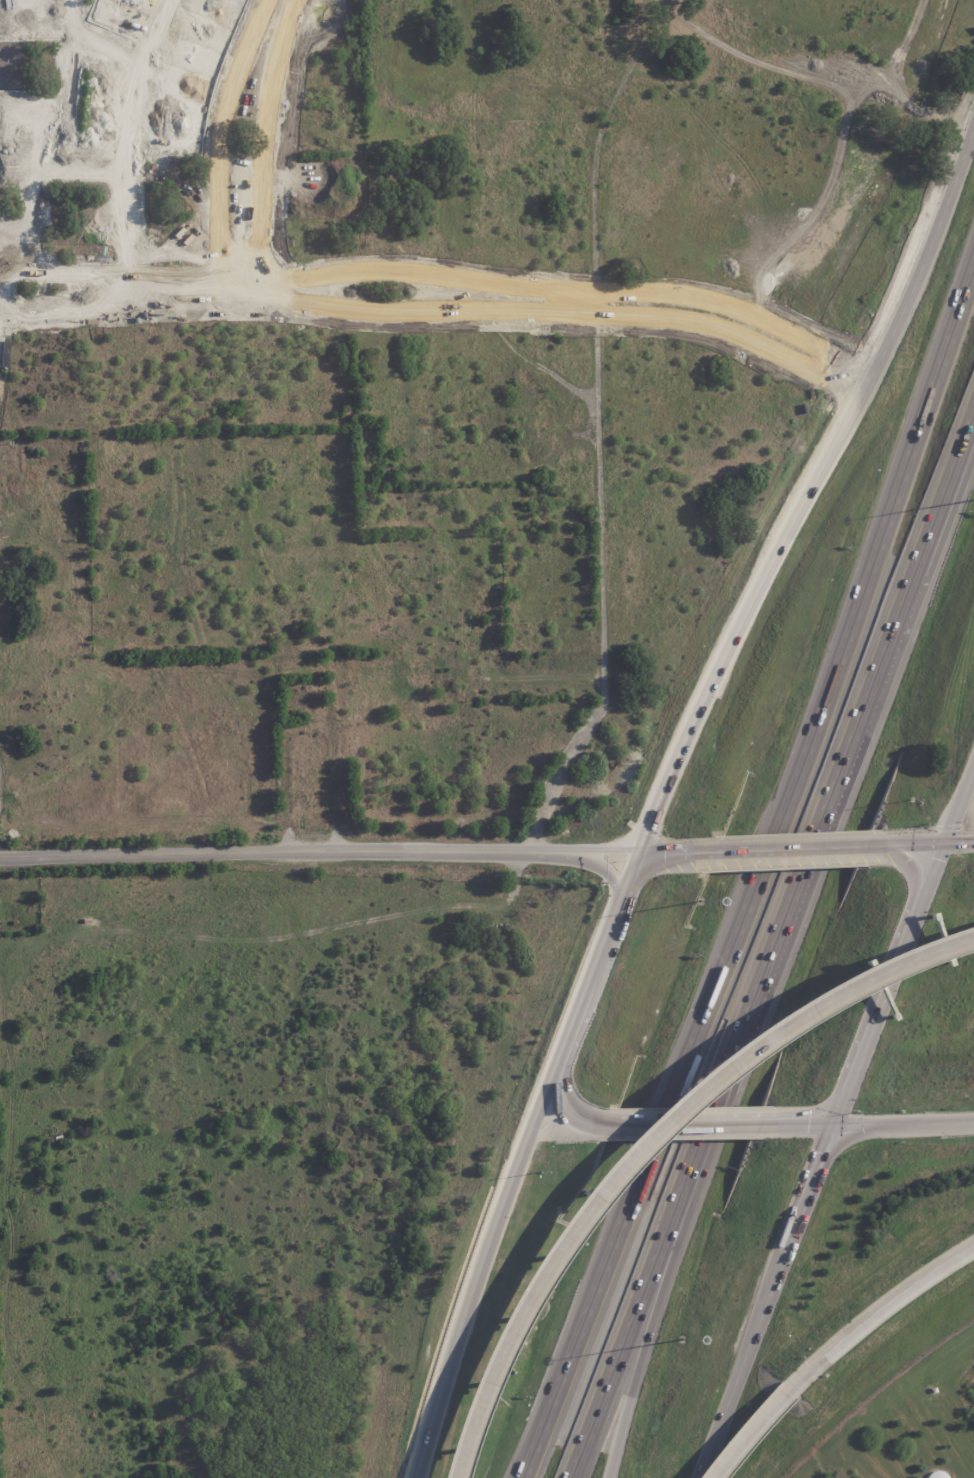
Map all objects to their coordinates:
road: (157, 29)
building: (239, 31)
road: (92, 42)
building: (246, 114)
road: (223, 133)
road: (264, 146)
road: (128, 153)
road: (79, 173)
road: (444, 273)
road: (222, 286)
road: (578, 301)
road: (437, 311)
road: (803, 504)
road: (916, 554)
road: (920, 581)
road: (944, 836)
road: (921, 842)
traffic signals: (942, 842)
road: (784, 847)
road: (671, 850)
traffic signals: (643, 851)
road: (807, 853)
road: (321, 854)
road: (762, 854)
road: (908, 867)
road: (591, 980)
road: (874, 1015)
road: (562, 1101)
road: (797, 1119)
traffic signals: (833, 1119)
road: (903, 1119)
road: (673, 1122)
road: (635, 1136)
road: (676, 1232)
road: (661, 1233)
road: (474, 1270)
road: (764, 1298)
road: (873, 1313)
road: (748, 1435)
road: (522, 1459)
road: (526, 1459)

